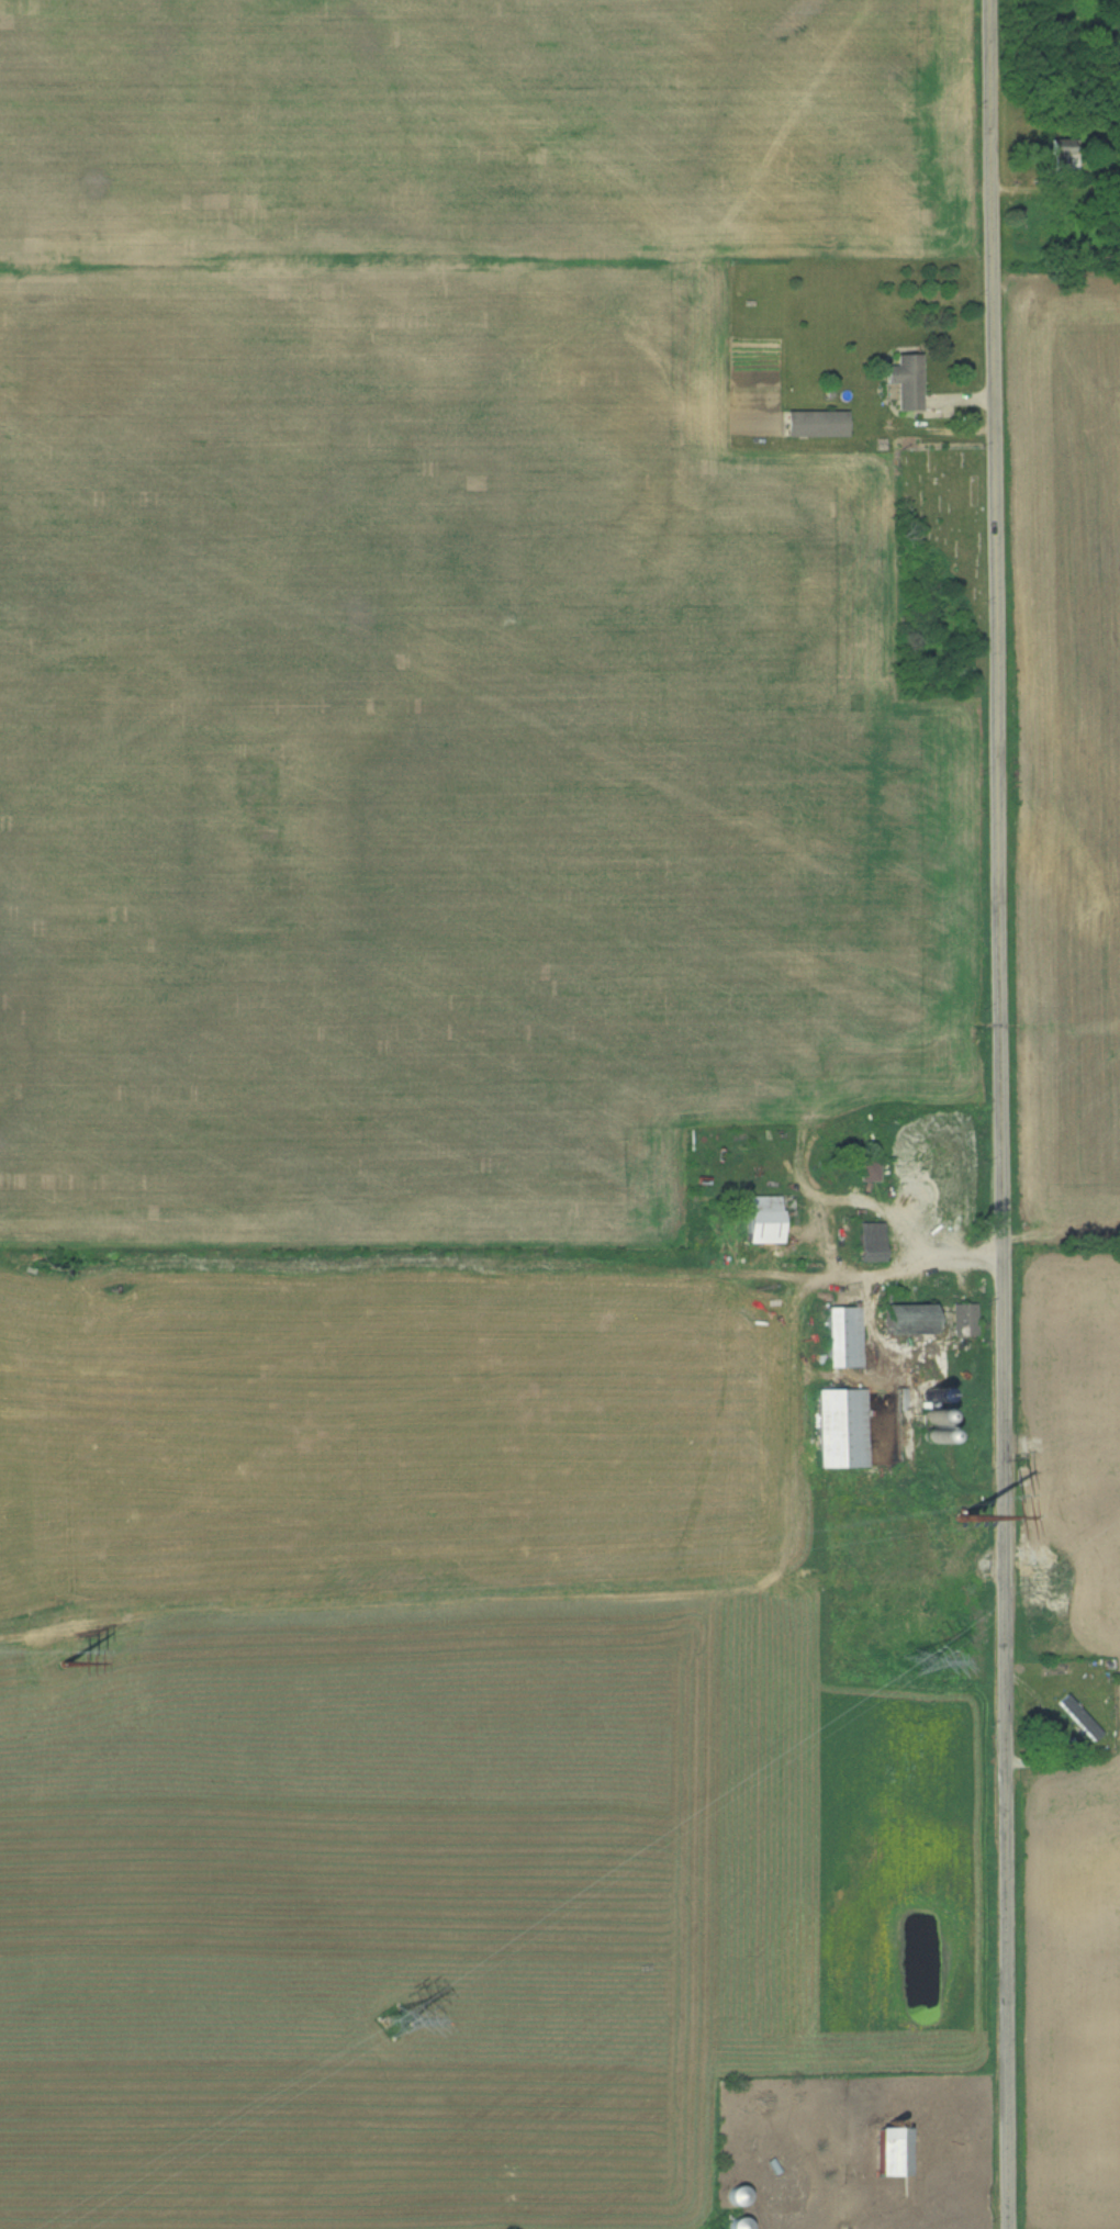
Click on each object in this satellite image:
building: (1063, 154)
building: (907, 381)
building: (816, 424)
road: (1003, 1113)
building: (870, 1169)
building: (922, 1202)
building: (768, 1218)
building: (871, 1242)
building: (907, 1318)
building: (964, 1319)
building: (843, 1336)
building: (839, 1435)
power tower: (959, 1519)
power tower: (60, 1651)
power tower: (915, 1659)
building: (1079, 1716)
power tower: (393, 2021)
building: (893, 2151)
building: (737, 2195)
building: (739, 2224)

